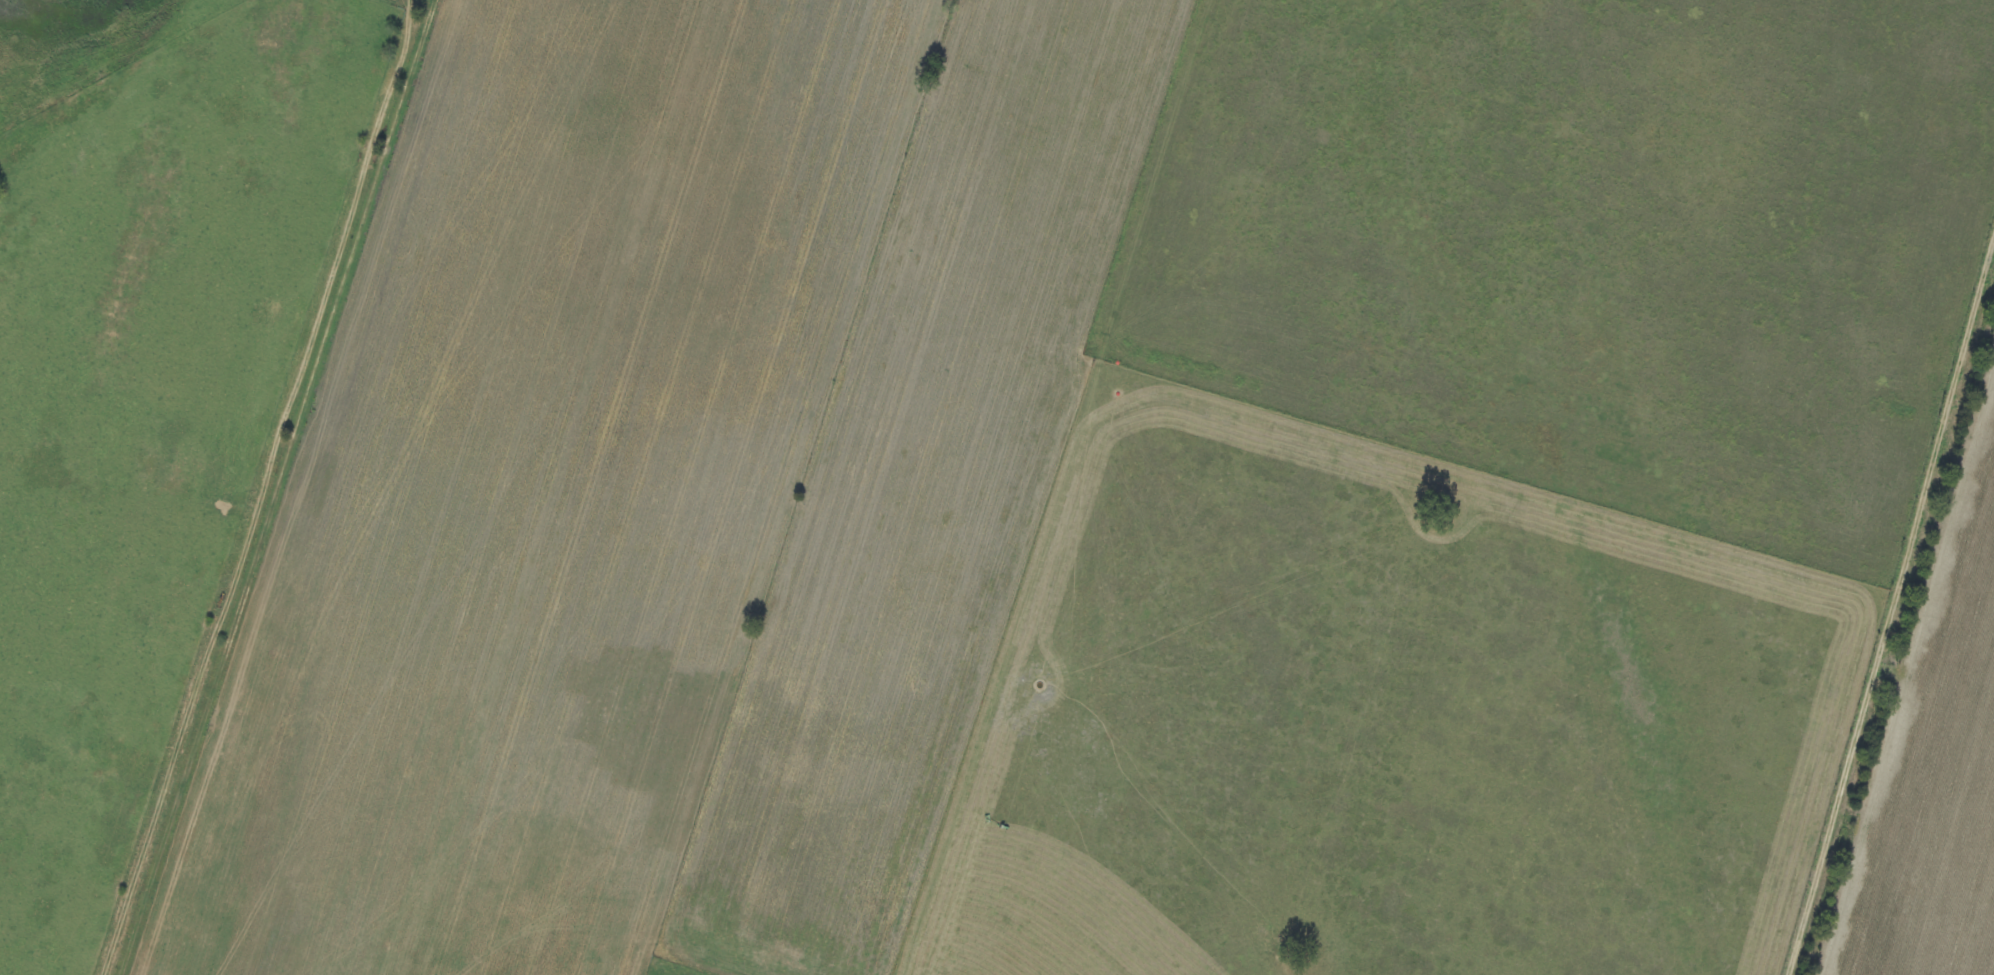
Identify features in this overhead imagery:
road: (293, 487)
road: (1036, 487)

